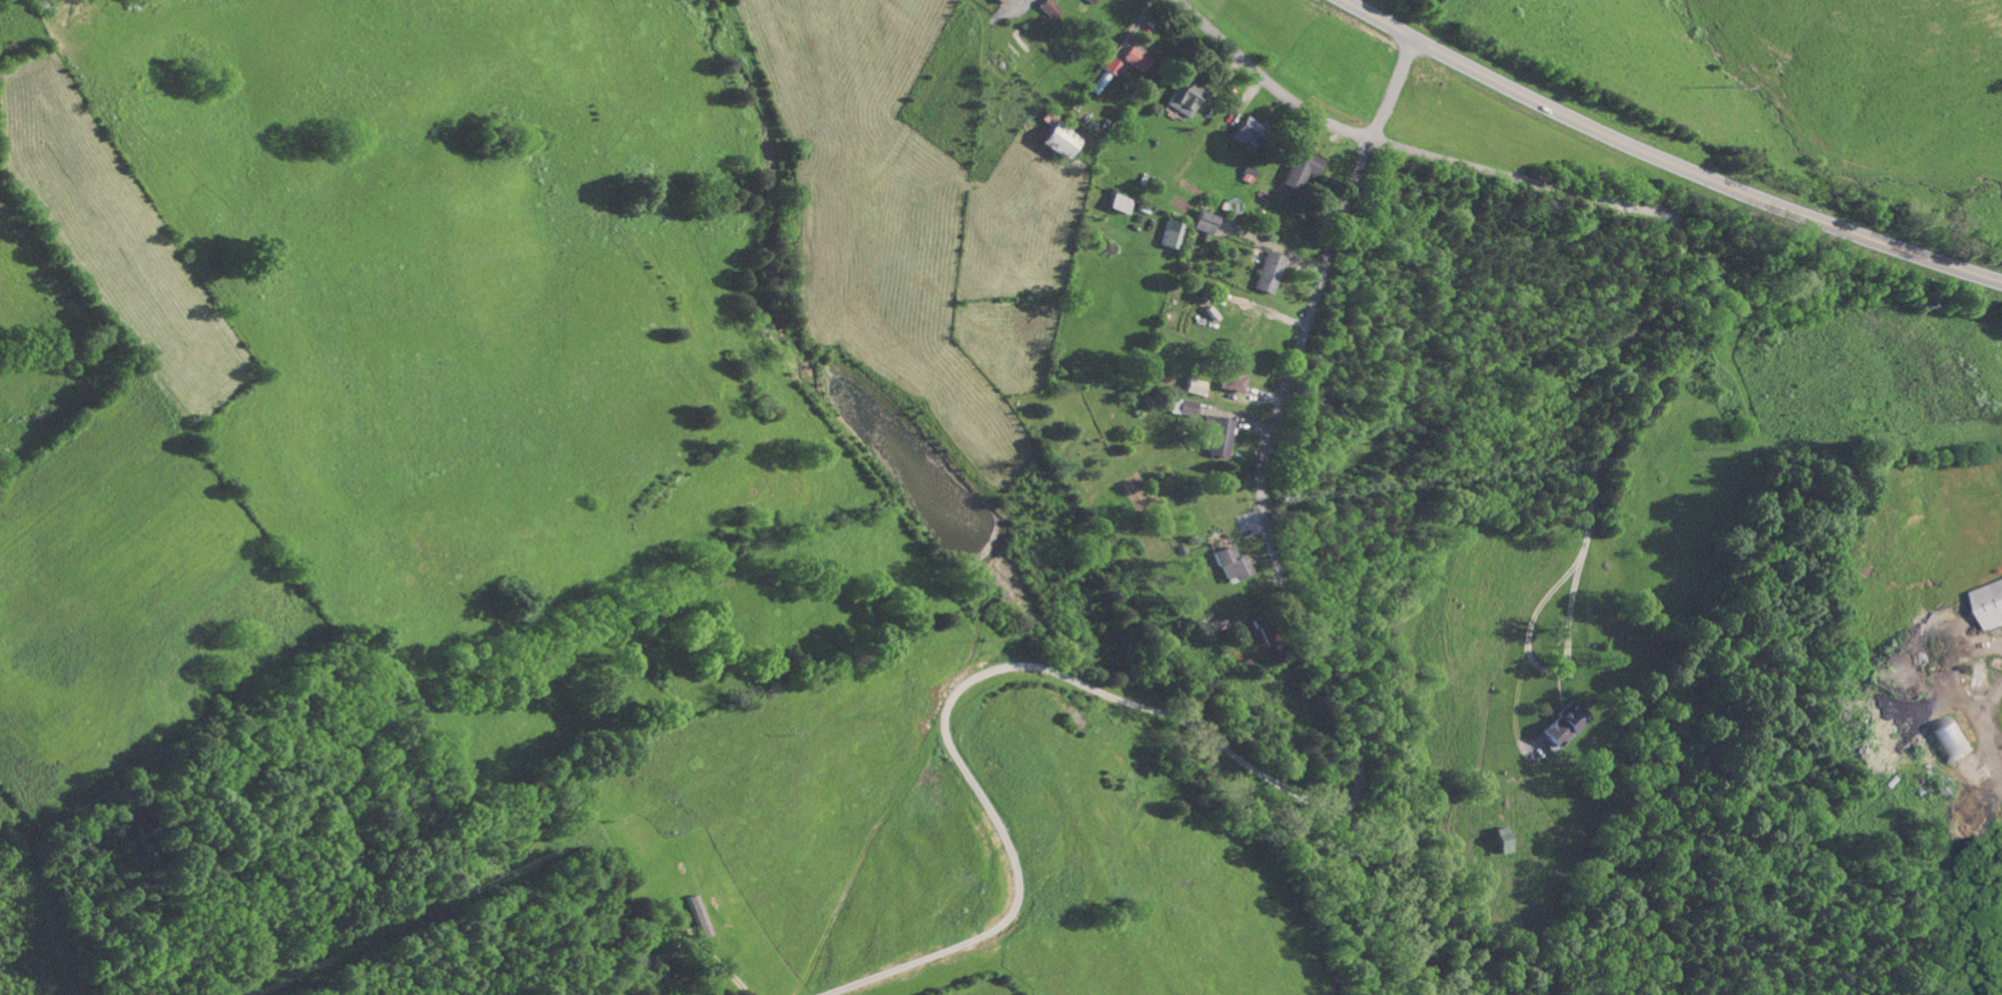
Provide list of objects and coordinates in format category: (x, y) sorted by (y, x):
building: (999, 1)
building: (1088, 1)
building: (1047, 7)
building: (1134, 57)
building: (1109, 65)
building: (1183, 97)
building: (1247, 130)
building: (1057, 139)
road: (1407, 150)
road: (1665, 162)
building: (1299, 168)
building: (1118, 203)
building: (1204, 221)
building: (1171, 233)
building: (1267, 271)
building: (1233, 375)
building: (1194, 386)
building: (1188, 407)
building: (1218, 434)
road: (1264, 523)
building: (1232, 564)
building: (1992, 603)
road: (948, 699)
building: (1562, 725)
building: (1954, 740)
building: (1500, 840)
building: (697, 916)
road: (723, 968)

